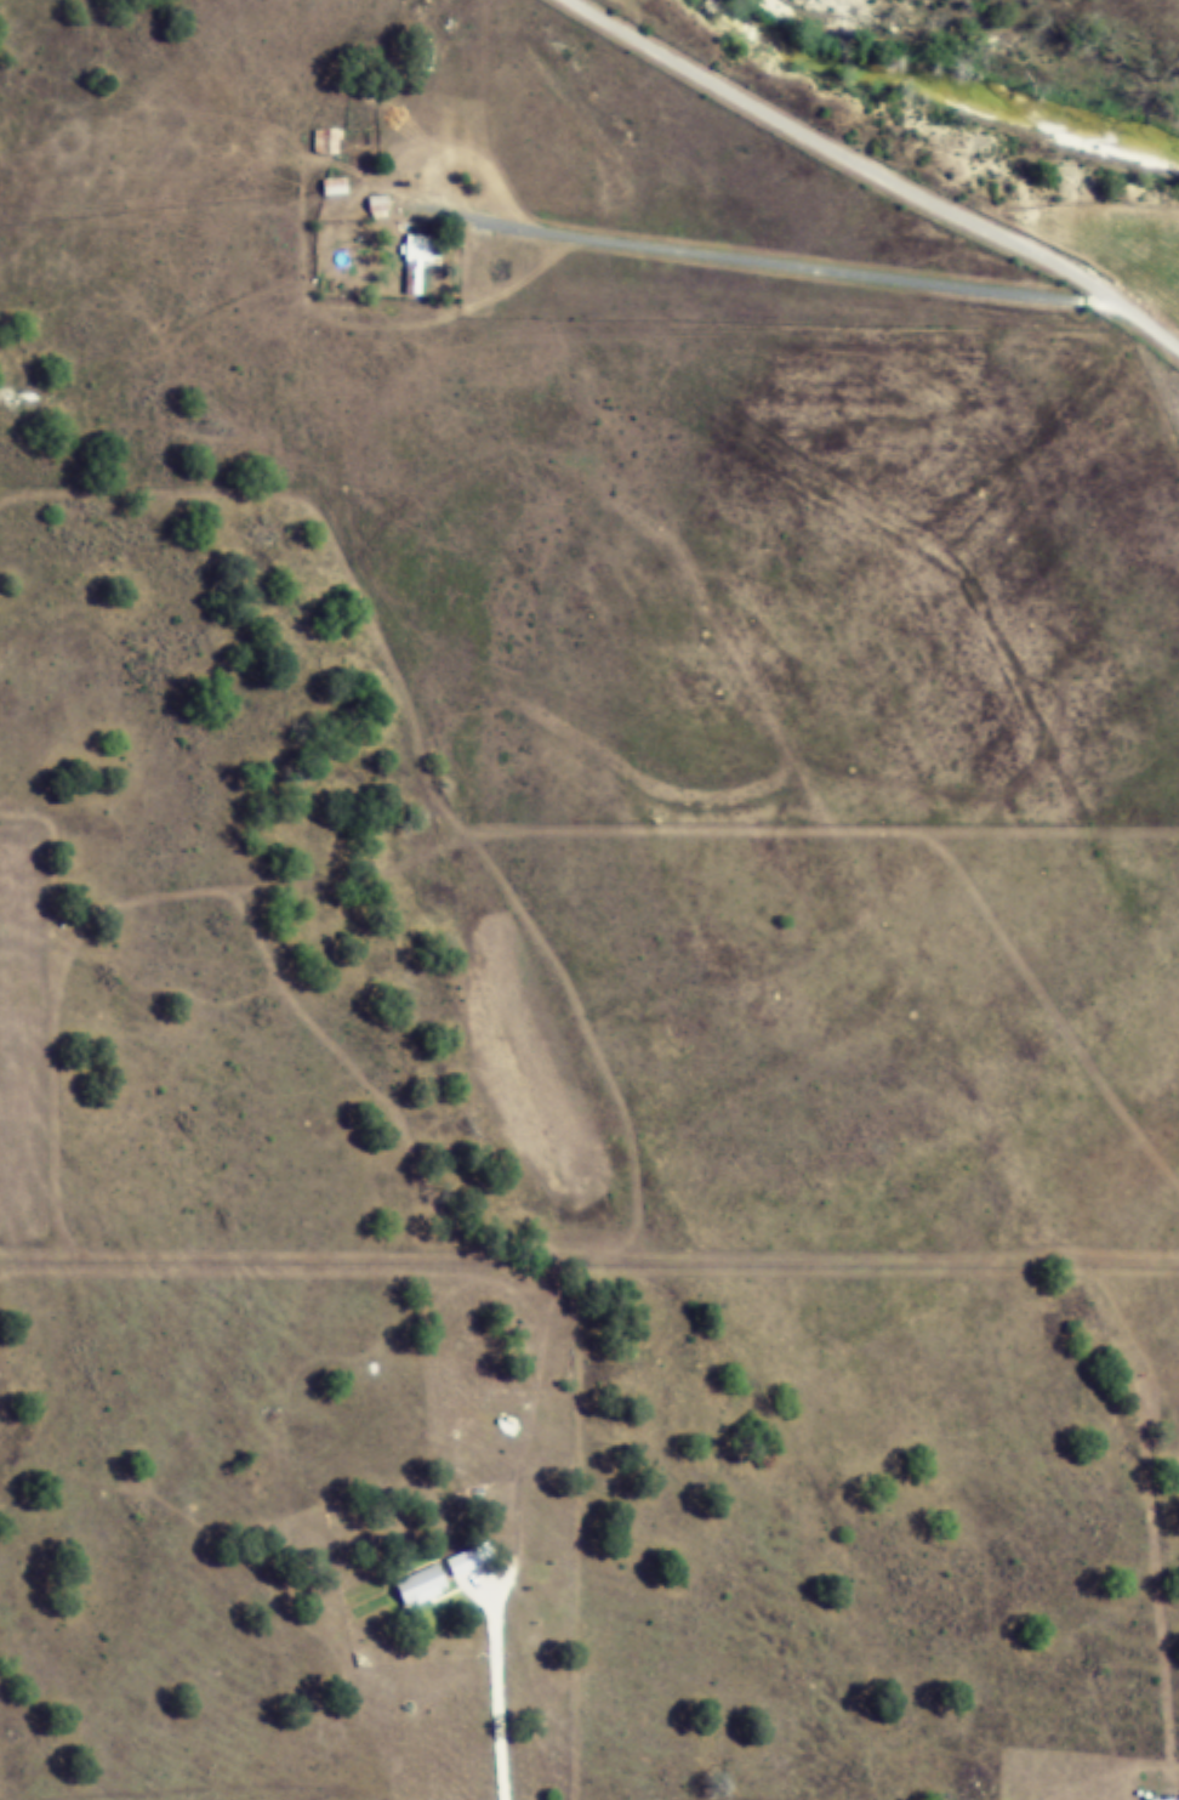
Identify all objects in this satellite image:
river: (976, 83)
road: (879, 171)
building: (336, 187)
building: (381, 205)
building: (418, 262)
road: (773, 273)
building: (469, 1560)
building: (425, 1585)

